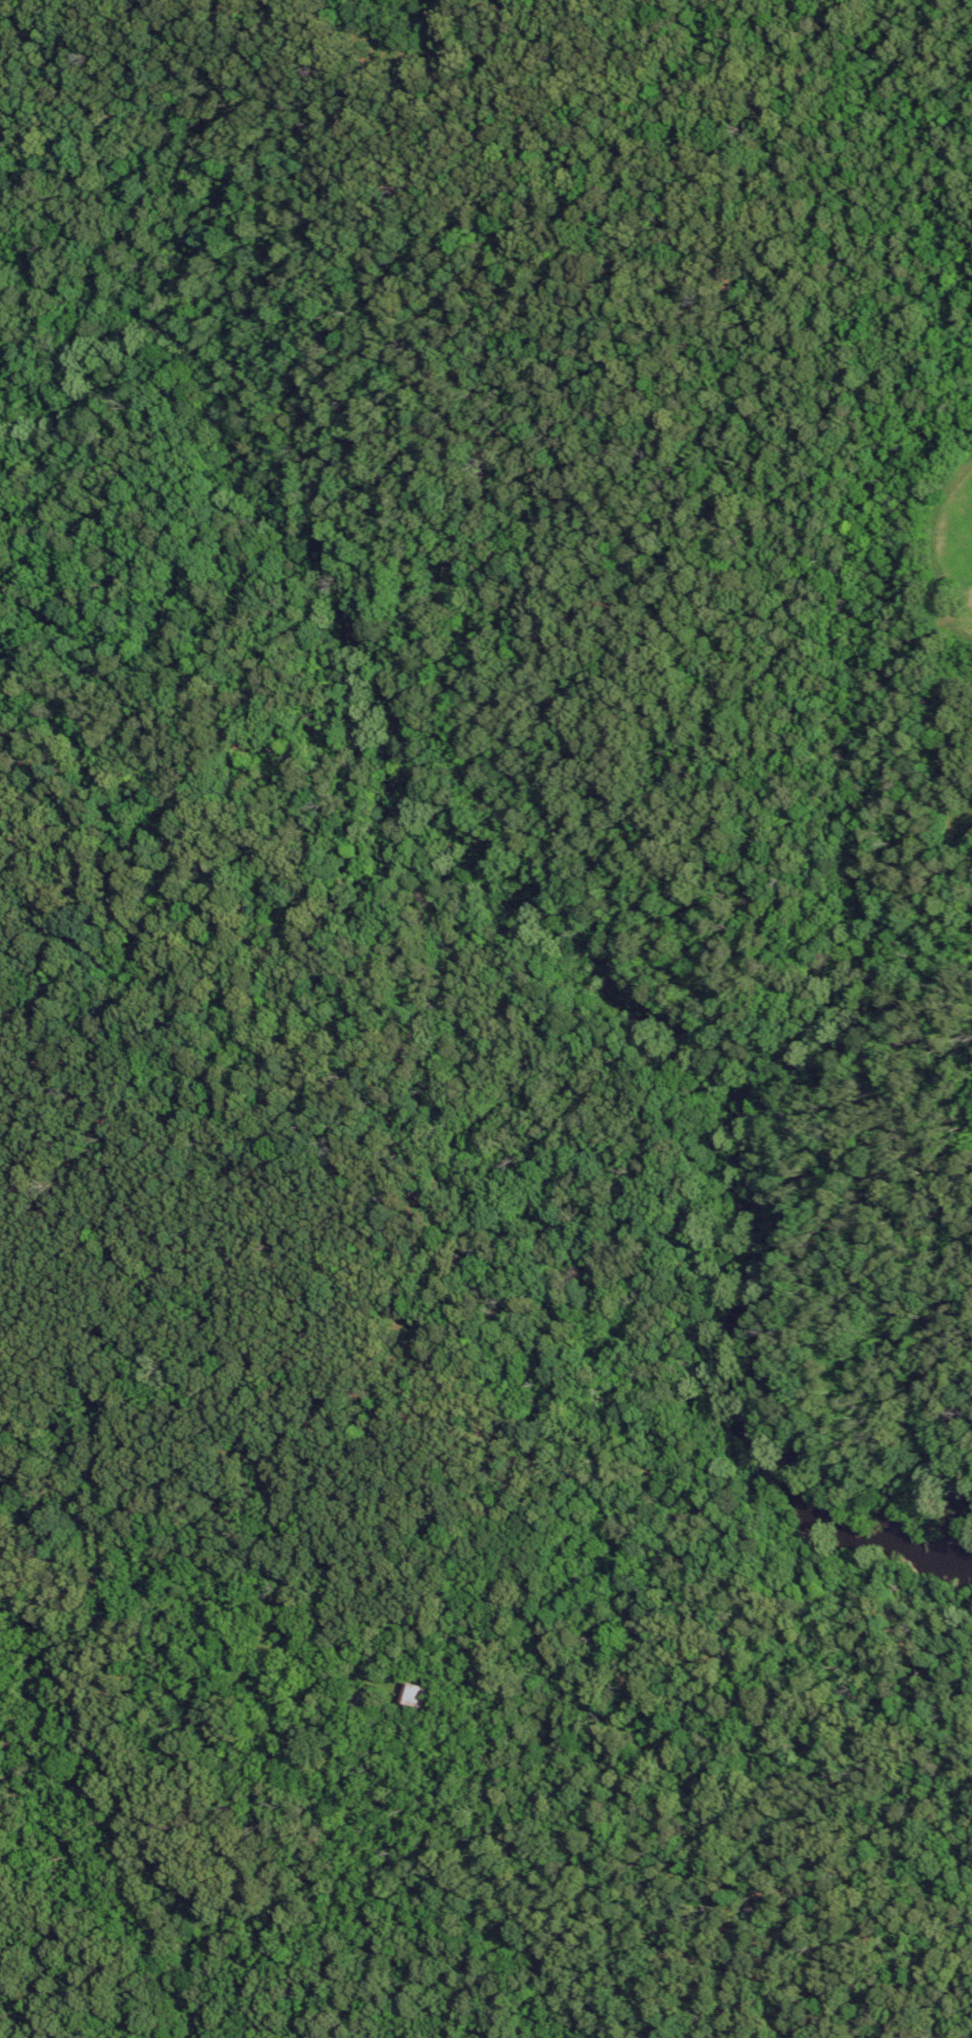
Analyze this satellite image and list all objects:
river: (531, 939)
park: (457, 1056)
road: (822, 1241)
building: (412, 1700)

